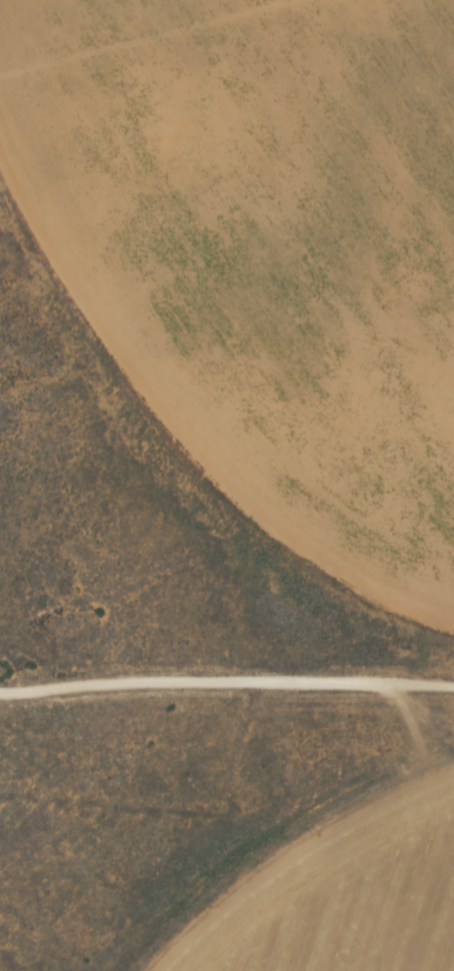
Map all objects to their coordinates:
road: (226, 685)

